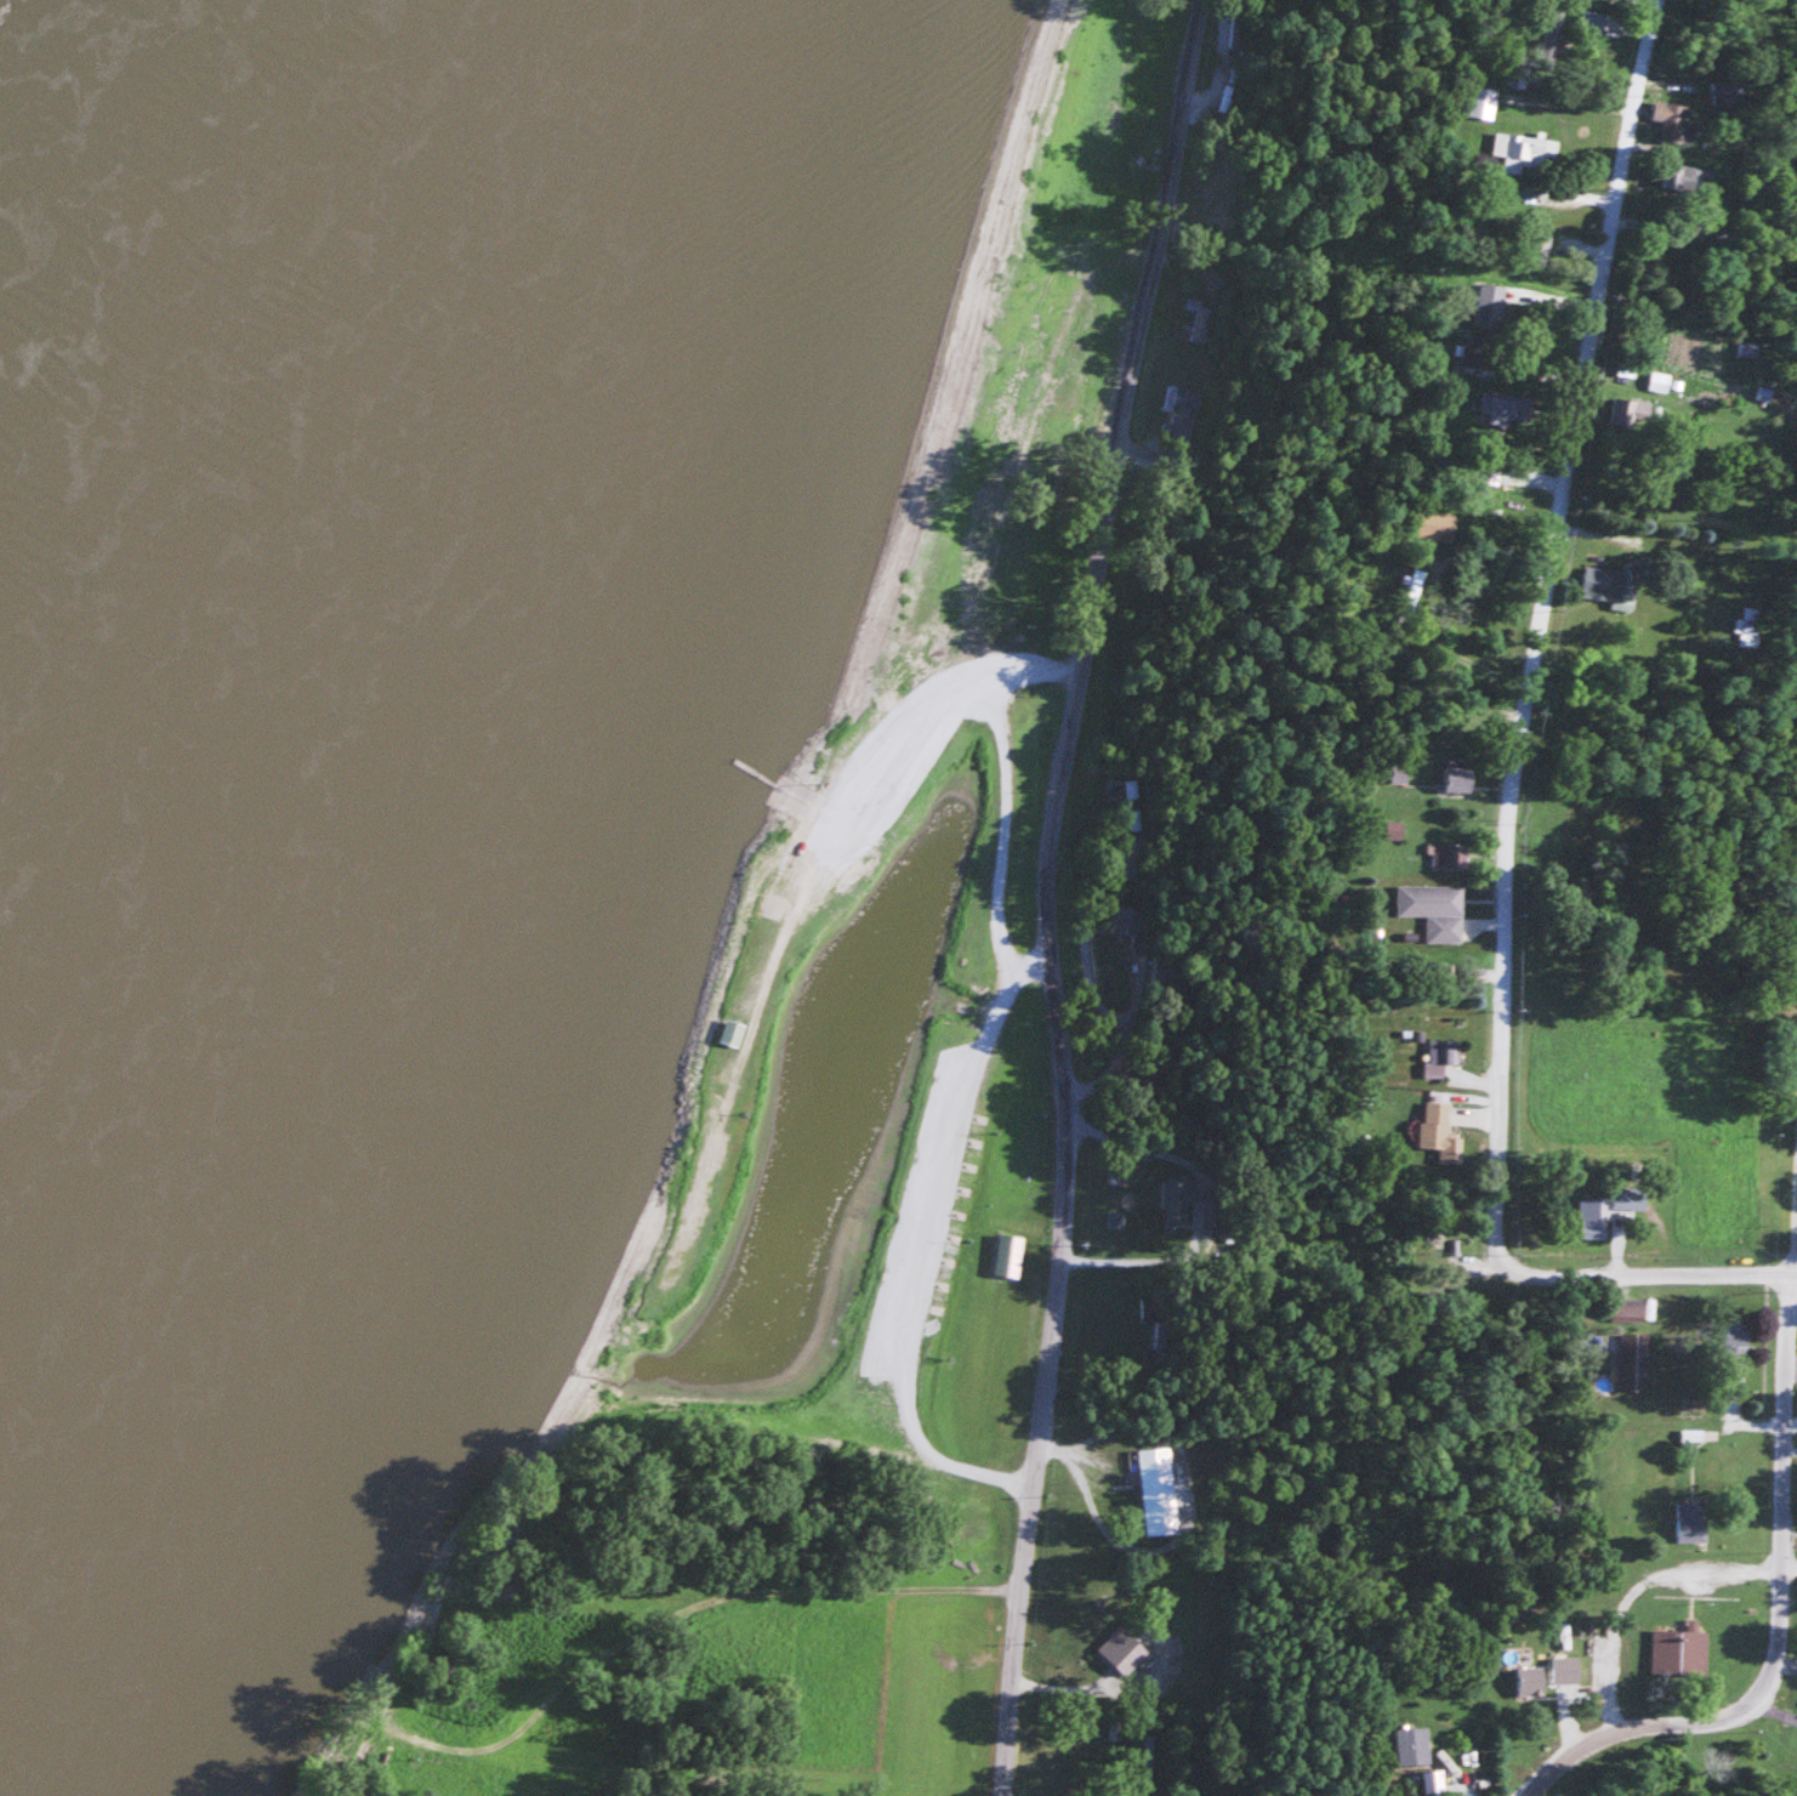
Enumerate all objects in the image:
building: (1552, 27)
river: (63, 104)
building: (1670, 120)
building: (1522, 153)
building: (1683, 178)
building: (1490, 305)
building: (1192, 322)
building: (1740, 348)
building: (1478, 351)
building: (1757, 393)
building: (1506, 405)
building: (1630, 413)
building: (1062, 414)
building: (1488, 468)
building: (1434, 524)
building: (1605, 584)
road: (1536, 626)
building: (1740, 626)
road: (1000, 671)
building: (1111, 721)
building: (1456, 779)
building: (1128, 792)
building: (1446, 856)
road: (993, 879)
building: (1585, 890)
road: (1048, 893)
building: (774, 905)
building: (1433, 909)
building: (1125, 920)
road: (1030, 965)
building: (730, 1034)
building: (1443, 1052)
building: (1437, 1127)
building: (1178, 1201)
building: (1207, 1216)
building: (1592, 1218)
road: (1640, 1283)
building: (1627, 1311)
building: (1735, 1332)
building: (1158, 1347)
building: (1632, 1362)
road: (1782, 1387)
building: (1691, 1521)
building: (1153, 1524)
road: (670, 1571)
road: (1734, 1574)
building: (1678, 1653)
building: (1565, 1669)
building: (1529, 1680)
road: (1664, 1717)
building: (1116, 1730)
building: (1411, 1745)
building: (1198, 1767)
road: (1546, 1767)
building: (356, 1790)

